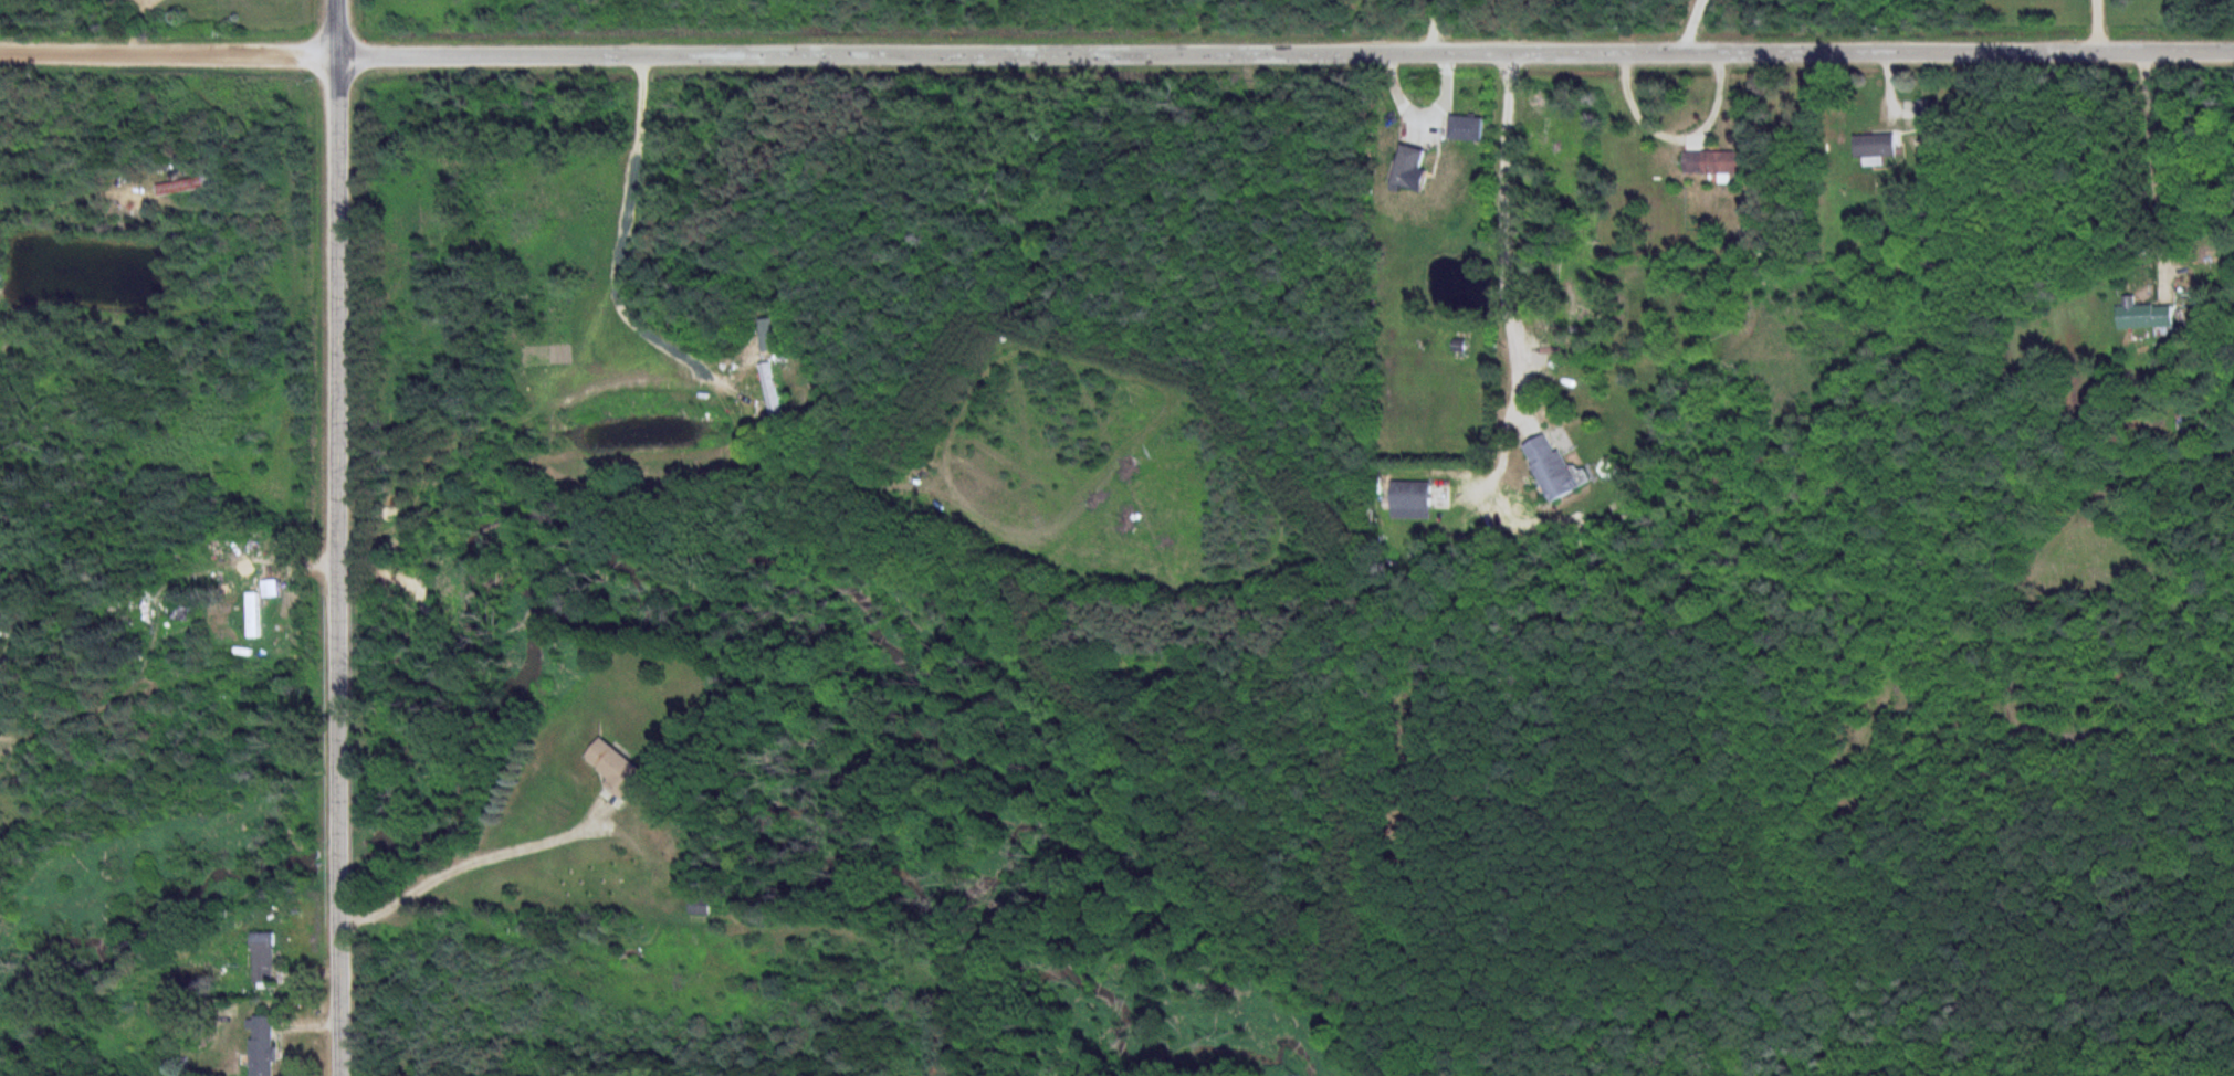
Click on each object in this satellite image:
road: (1689, 27)
road: (2098, 27)
road: (1116, 50)
building: (1931, 114)
building: (1469, 129)
building: (1884, 150)
building: (1717, 162)
road: (2149, 163)
building: (1414, 167)
road: (619, 232)
building: (2149, 316)
building: (778, 335)
building: (776, 391)
building: (1557, 470)
building: (1417, 500)
road: (334, 537)
building: (256, 612)
building: (618, 770)
road: (470, 859)
building: (269, 957)
building: (265, 1046)

